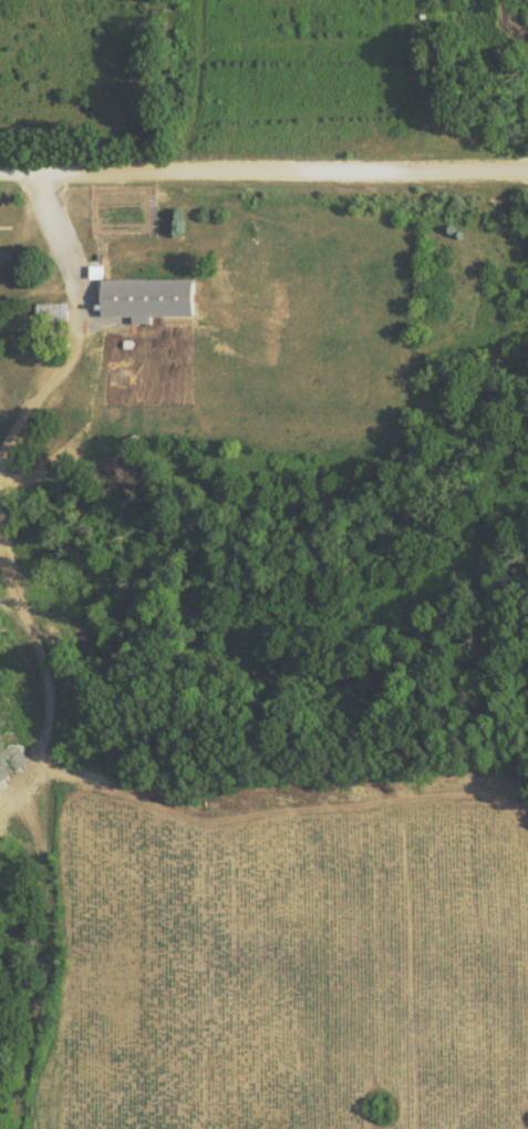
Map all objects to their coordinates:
road: (263, 168)

